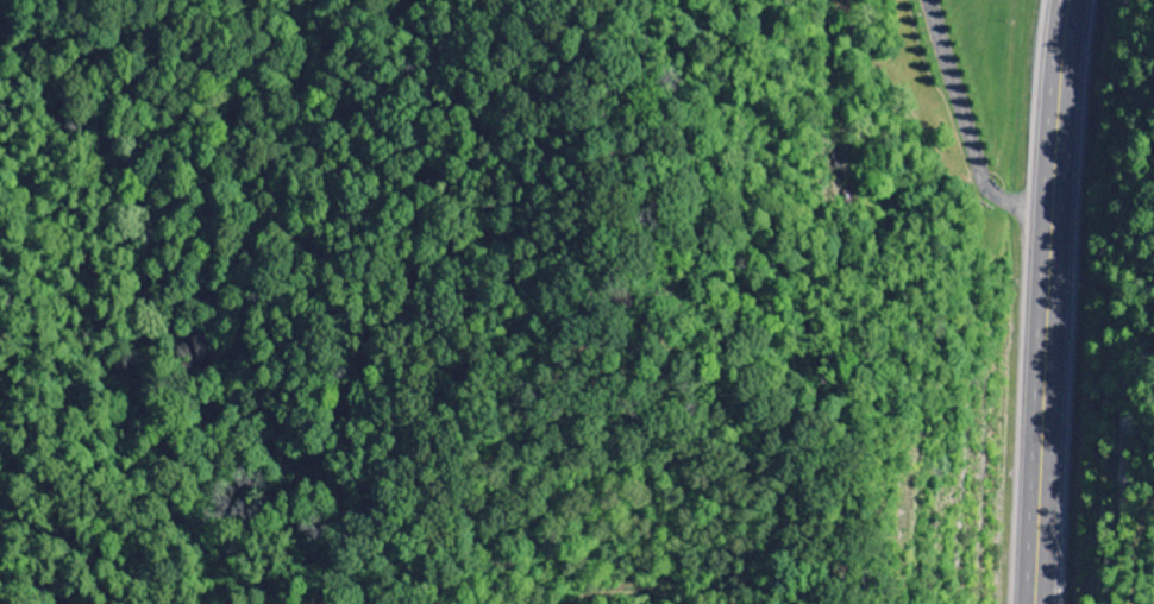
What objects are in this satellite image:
road: (966, 127)
road: (1048, 301)

